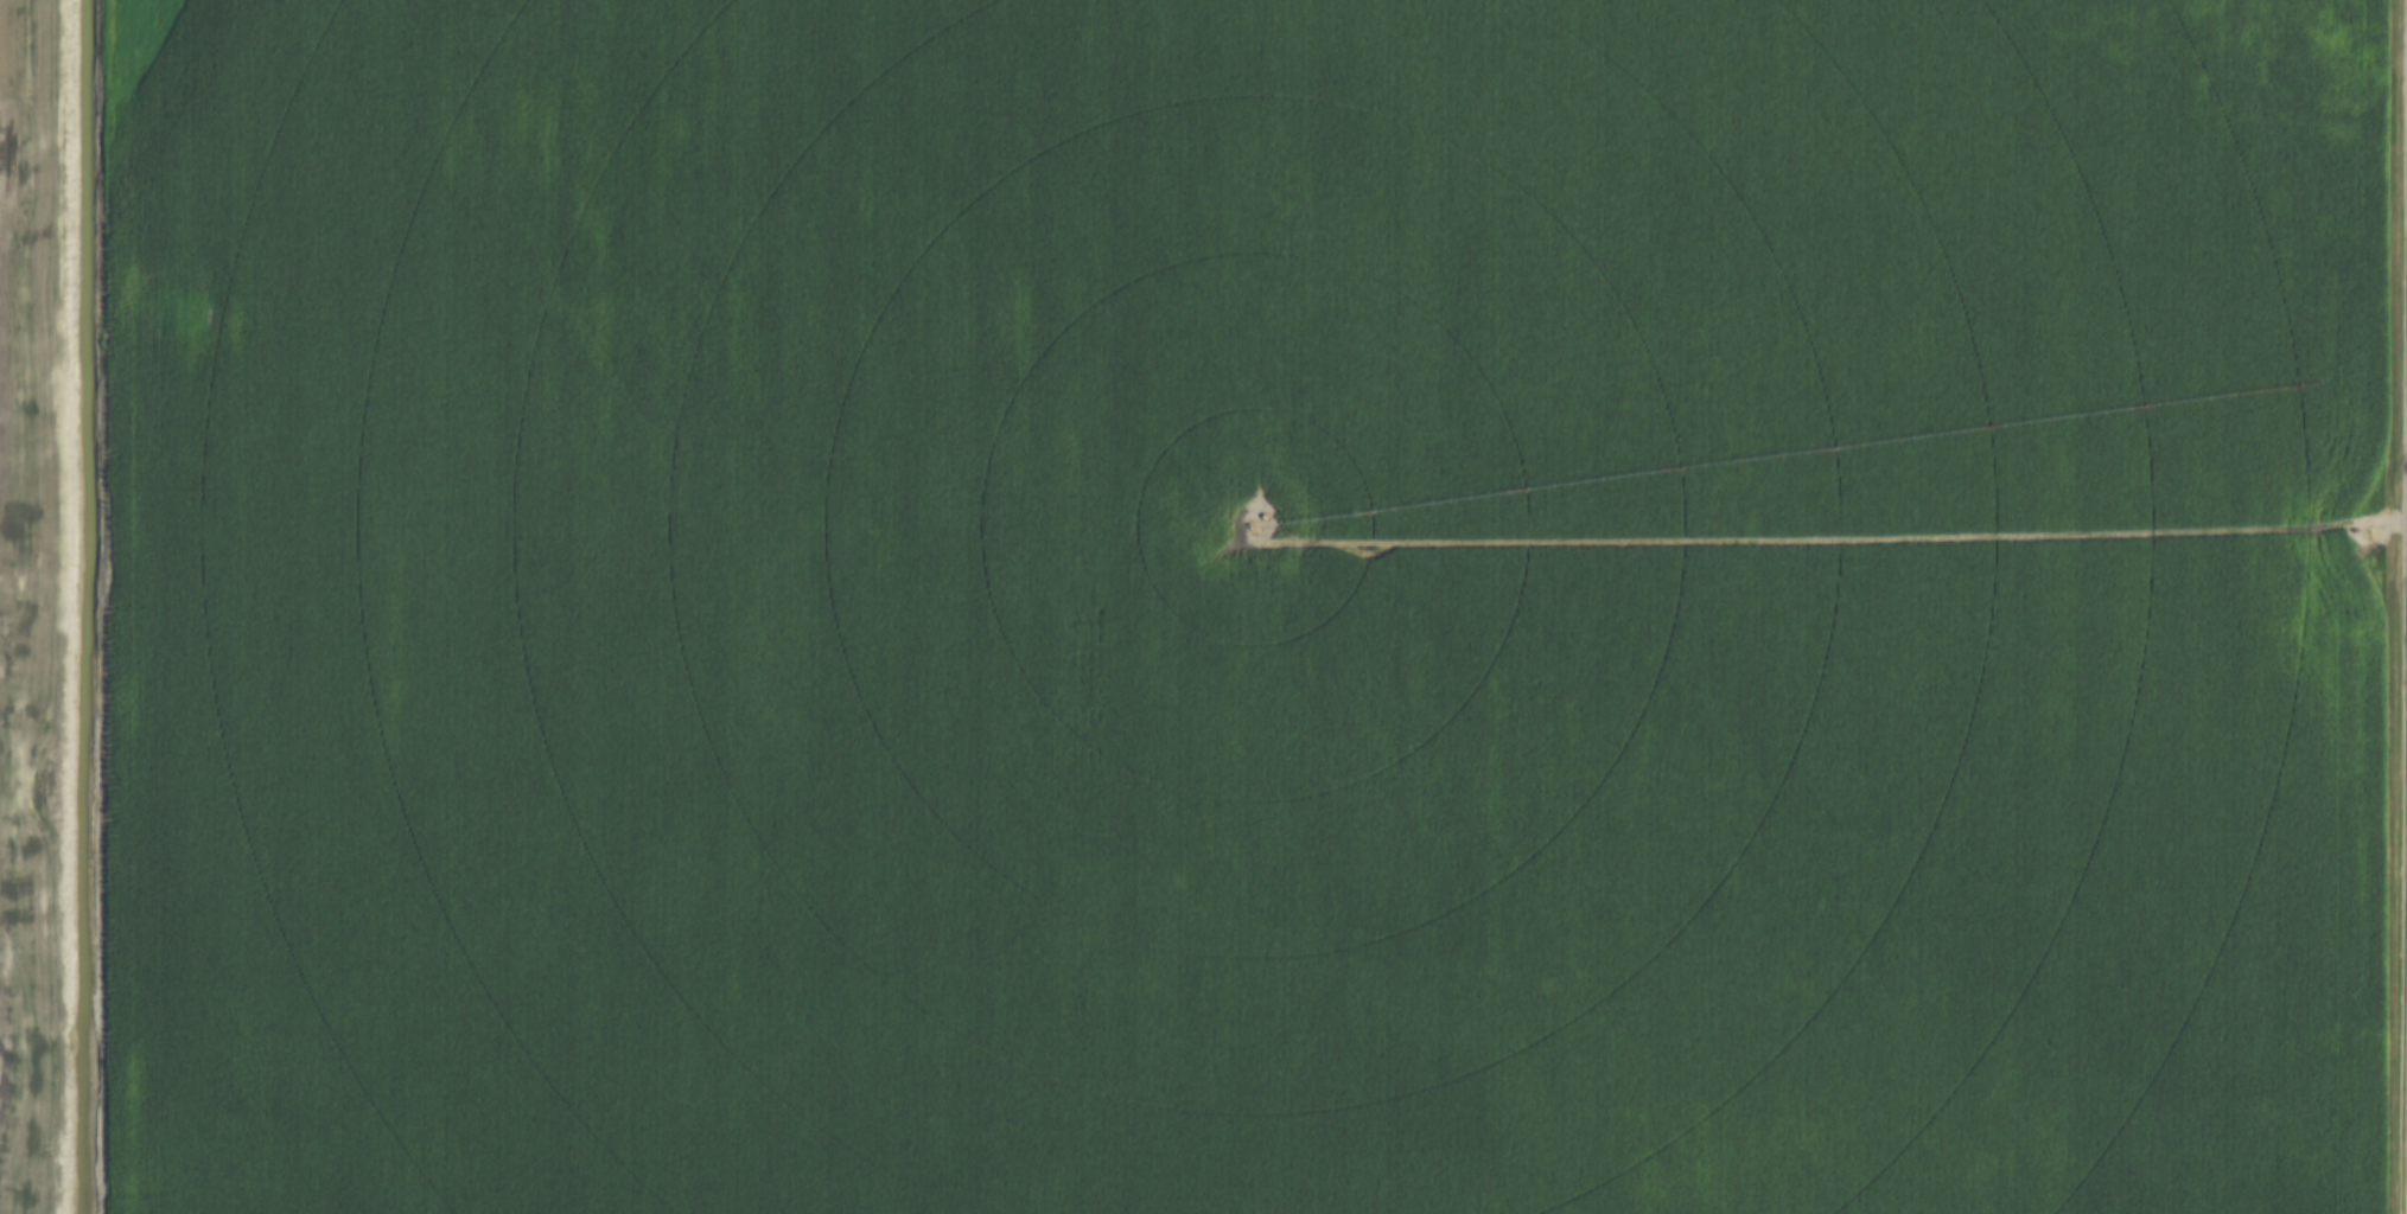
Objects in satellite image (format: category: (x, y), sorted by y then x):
road: (2402, 880)

